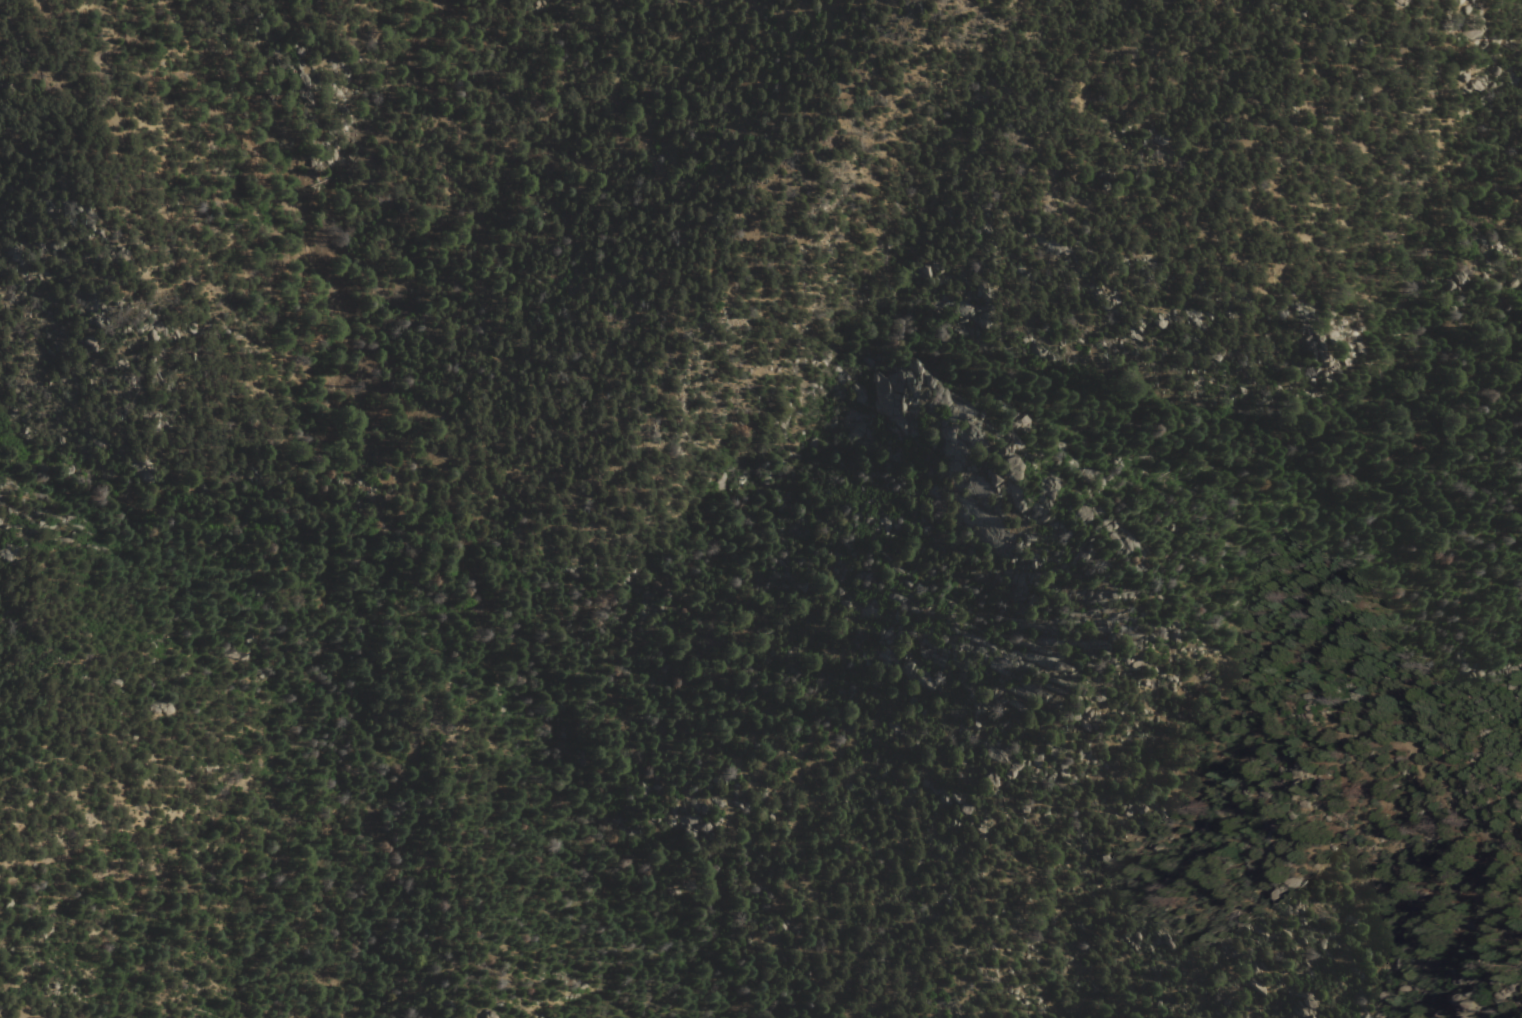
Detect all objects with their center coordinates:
road: (451, 614)

